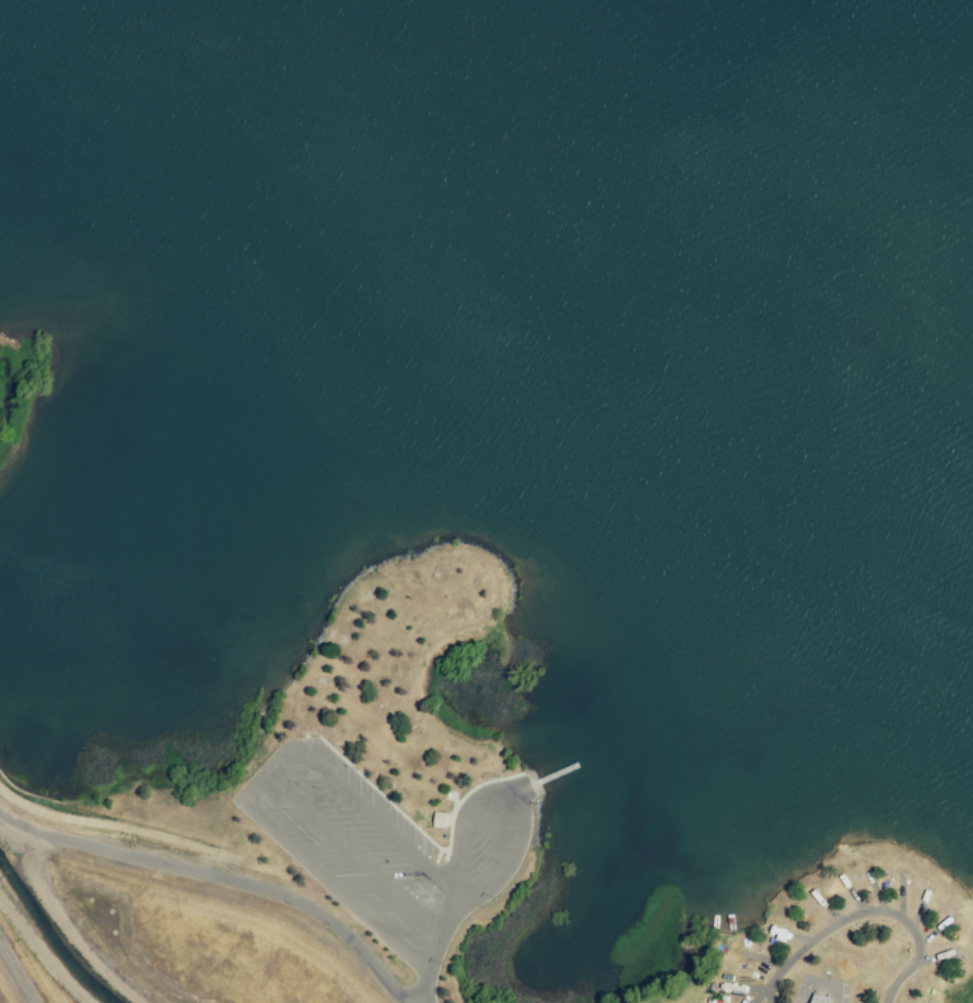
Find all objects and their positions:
road: (221, 879)
building: (820, 999)

